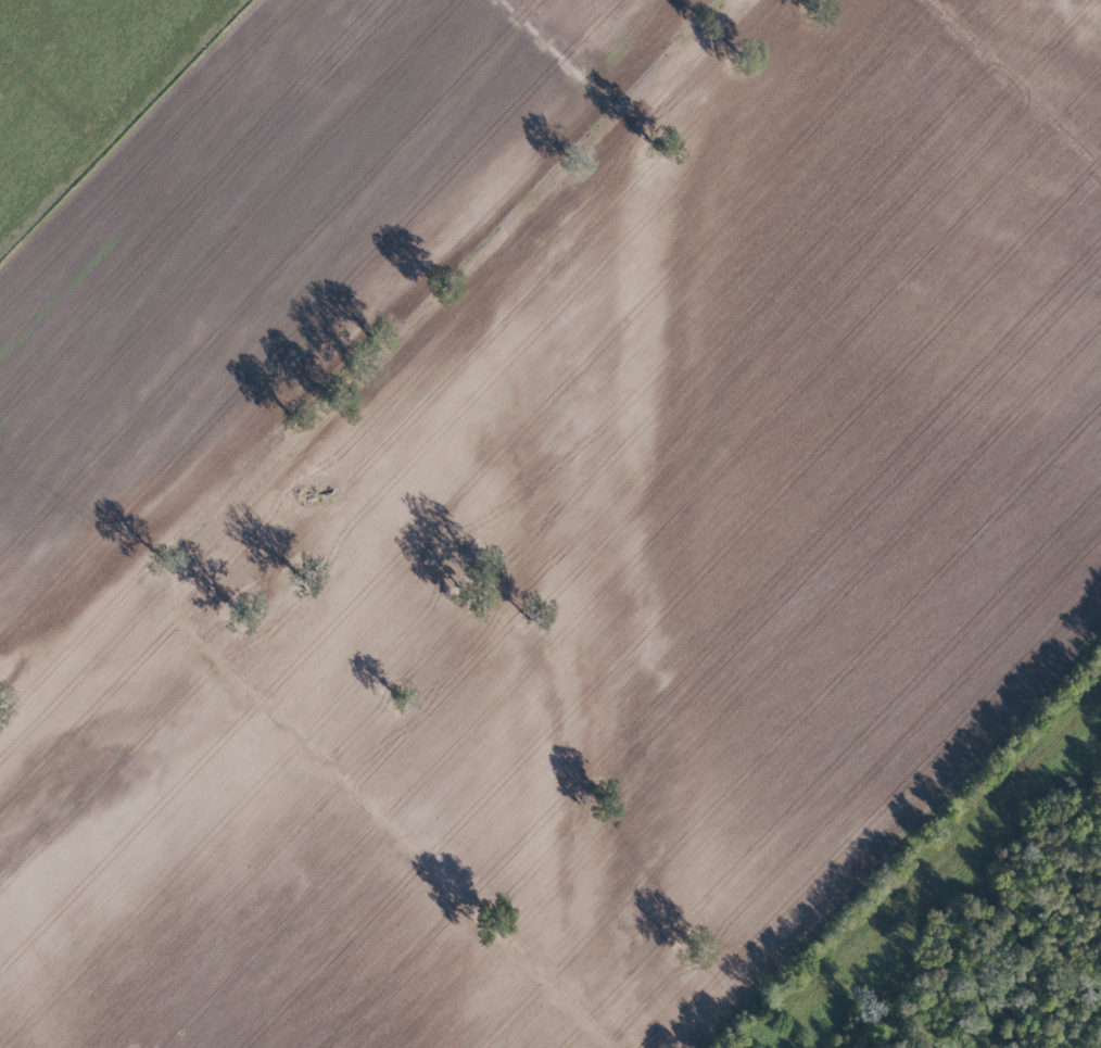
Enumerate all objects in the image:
road: (837, 35)

